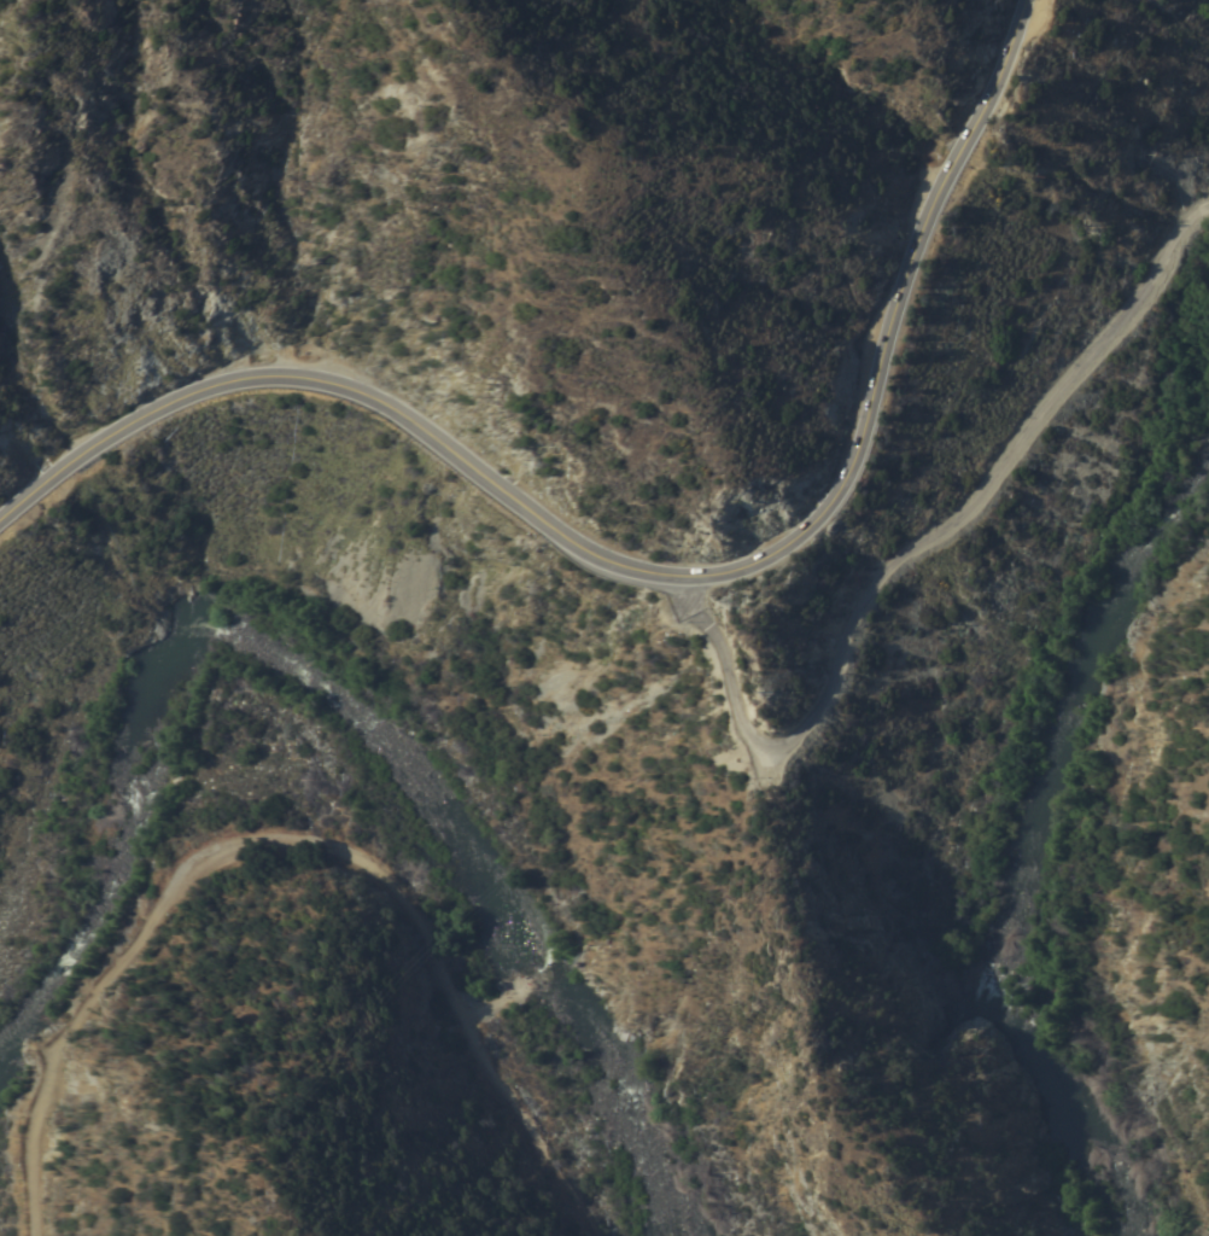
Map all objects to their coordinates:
road: (911, 547)
road: (647, 569)
river: (257, 737)
river: (1028, 839)
road: (240, 845)
river: (624, 1106)
road: (1164, 1150)
road: (572, 1194)

